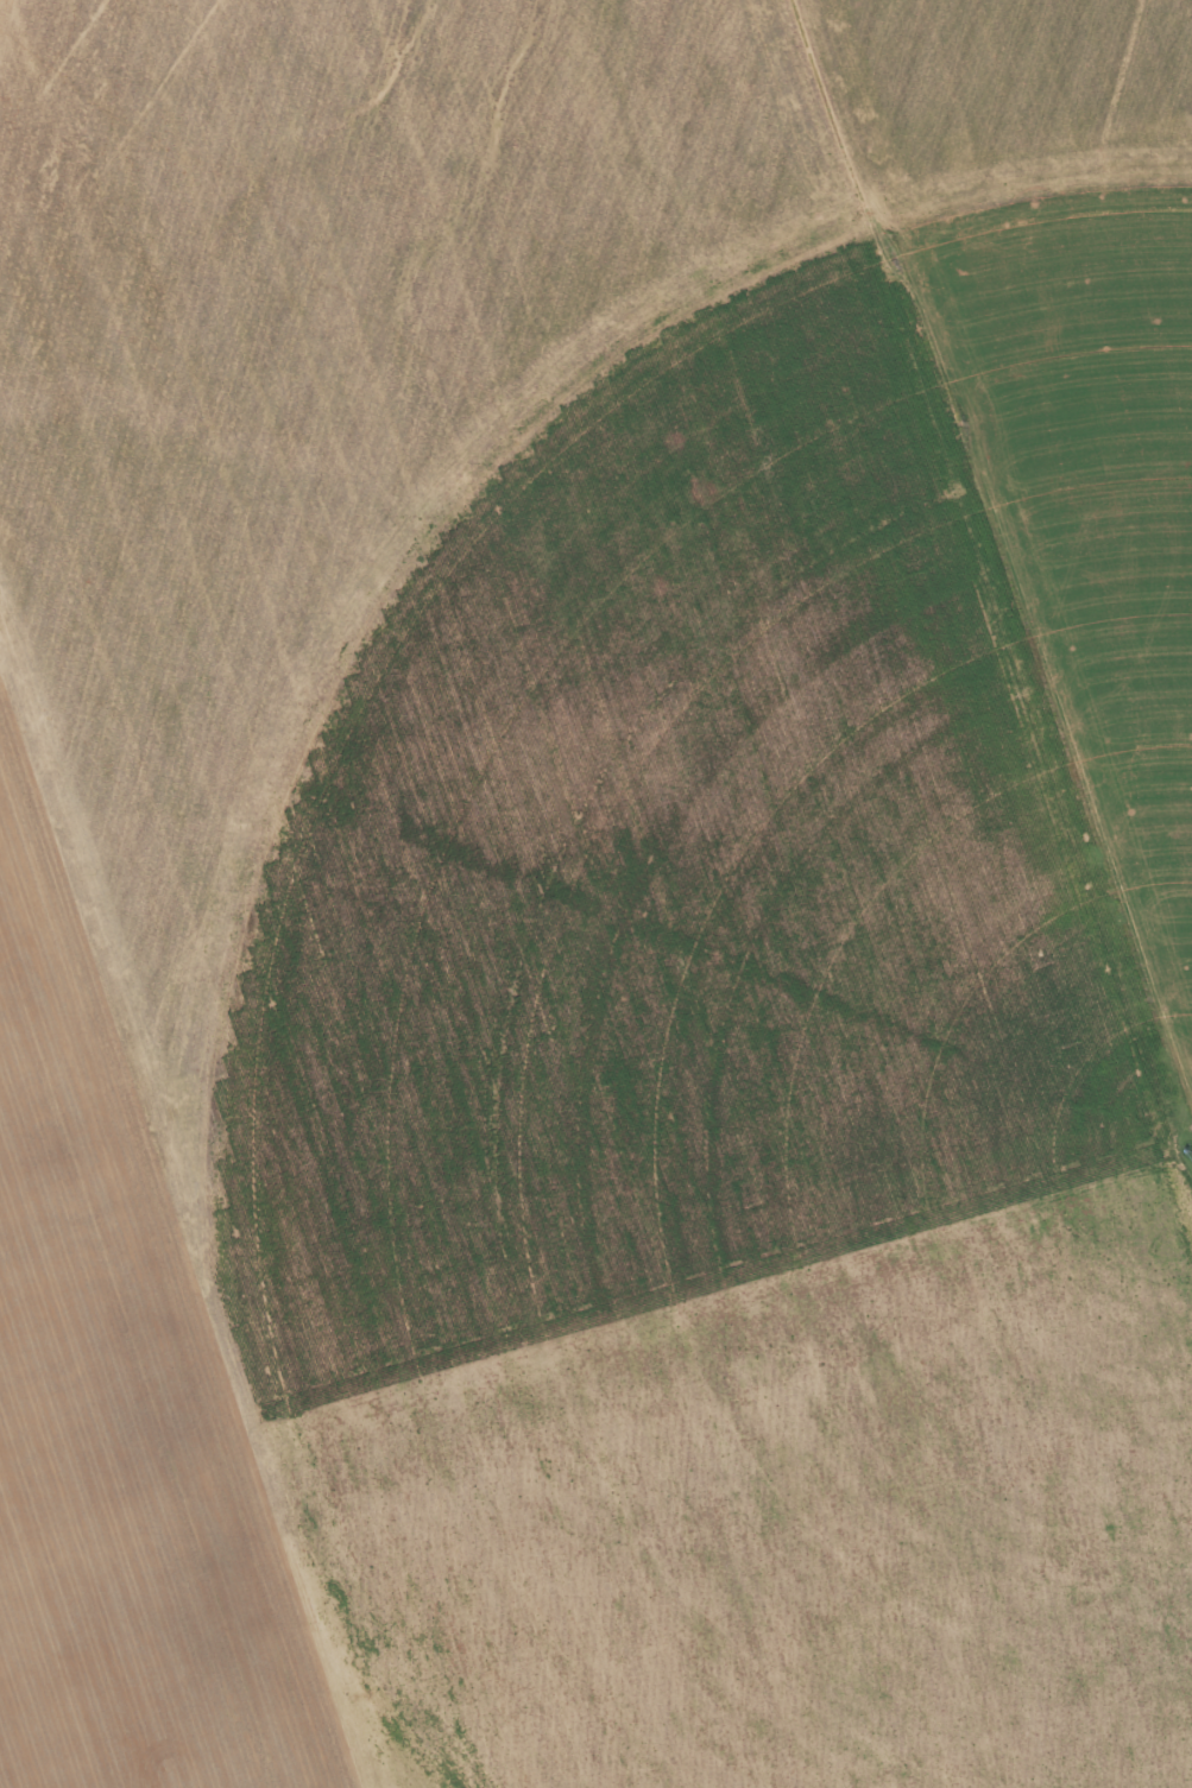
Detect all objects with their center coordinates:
road: (1030, 448)

